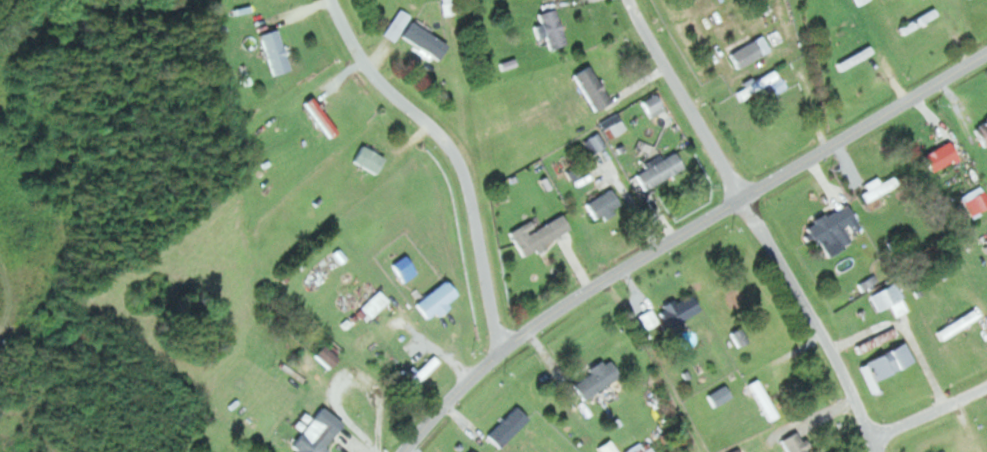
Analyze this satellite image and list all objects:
building: (861, 1)
building: (919, 21)
building: (548, 29)
building: (413, 35)
building: (273, 52)
building: (748, 52)
building: (855, 58)
building: (757, 85)
building: (589, 88)
road: (690, 101)
building: (652, 106)
building: (612, 123)
building: (981, 133)
building: (593, 144)
road: (460, 153)
building: (938, 157)
building: (366, 159)
building: (659, 170)
building: (879, 191)
building: (977, 203)
building: (601, 205)
building: (831, 229)
building: (537, 234)
road: (684, 237)
building: (400, 266)
building: (890, 299)
building: (433, 300)
building: (374, 304)
building: (671, 313)
building: (957, 325)
road: (818, 327)
building: (739, 337)
building: (323, 357)
building: (888, 361)
building: (421, 372)
building: (595, 379)
building: (718, 396)
building: (763, 400)
road: (933, 410)
building: (506, 427)
building: (311, 441)
building: (793, 443)

